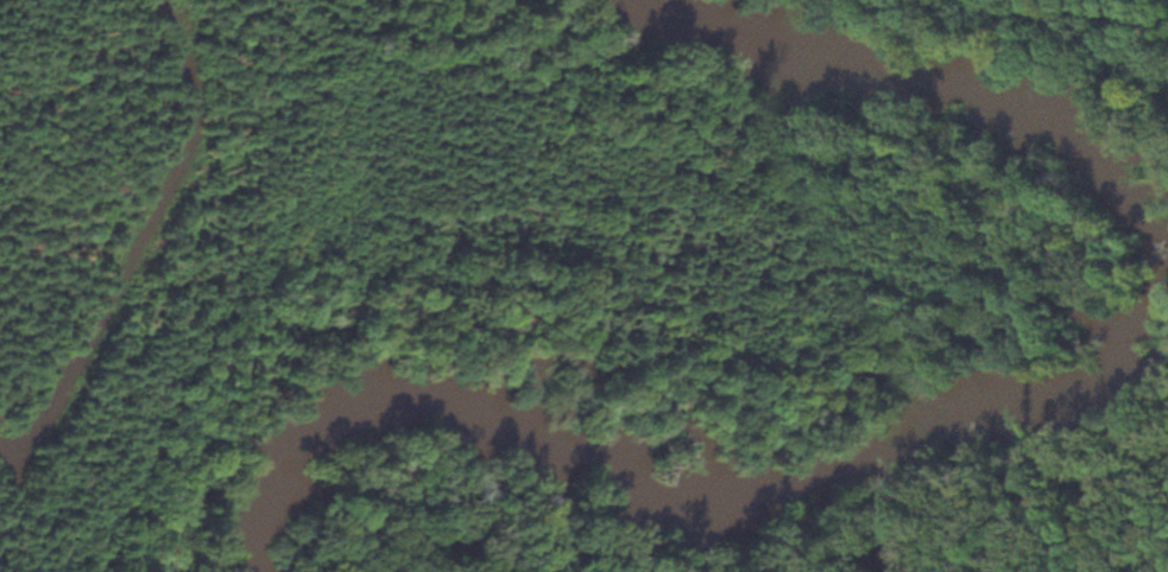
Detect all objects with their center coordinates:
river: (992, 415)

